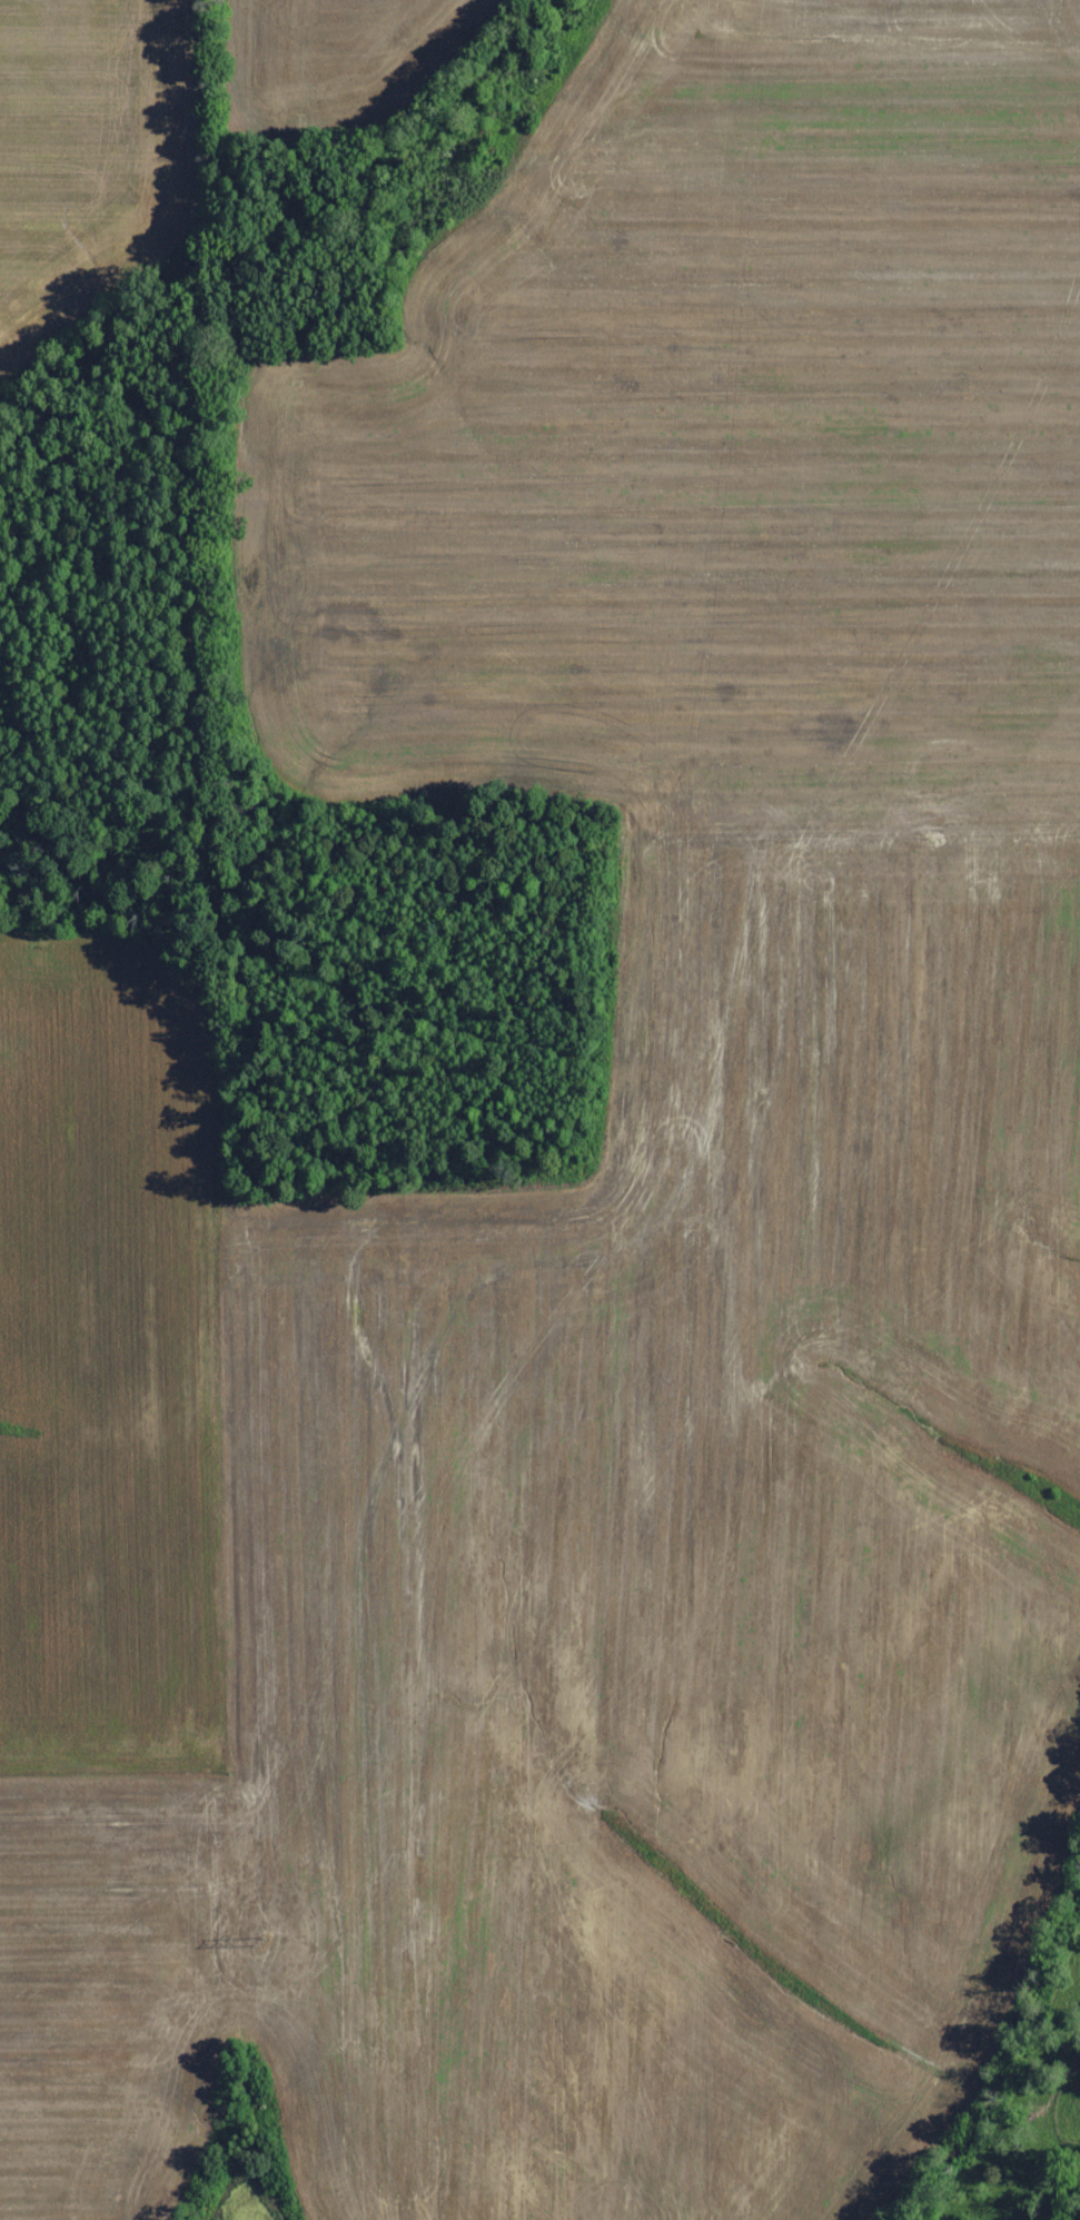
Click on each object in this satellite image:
road: (712, 760)

